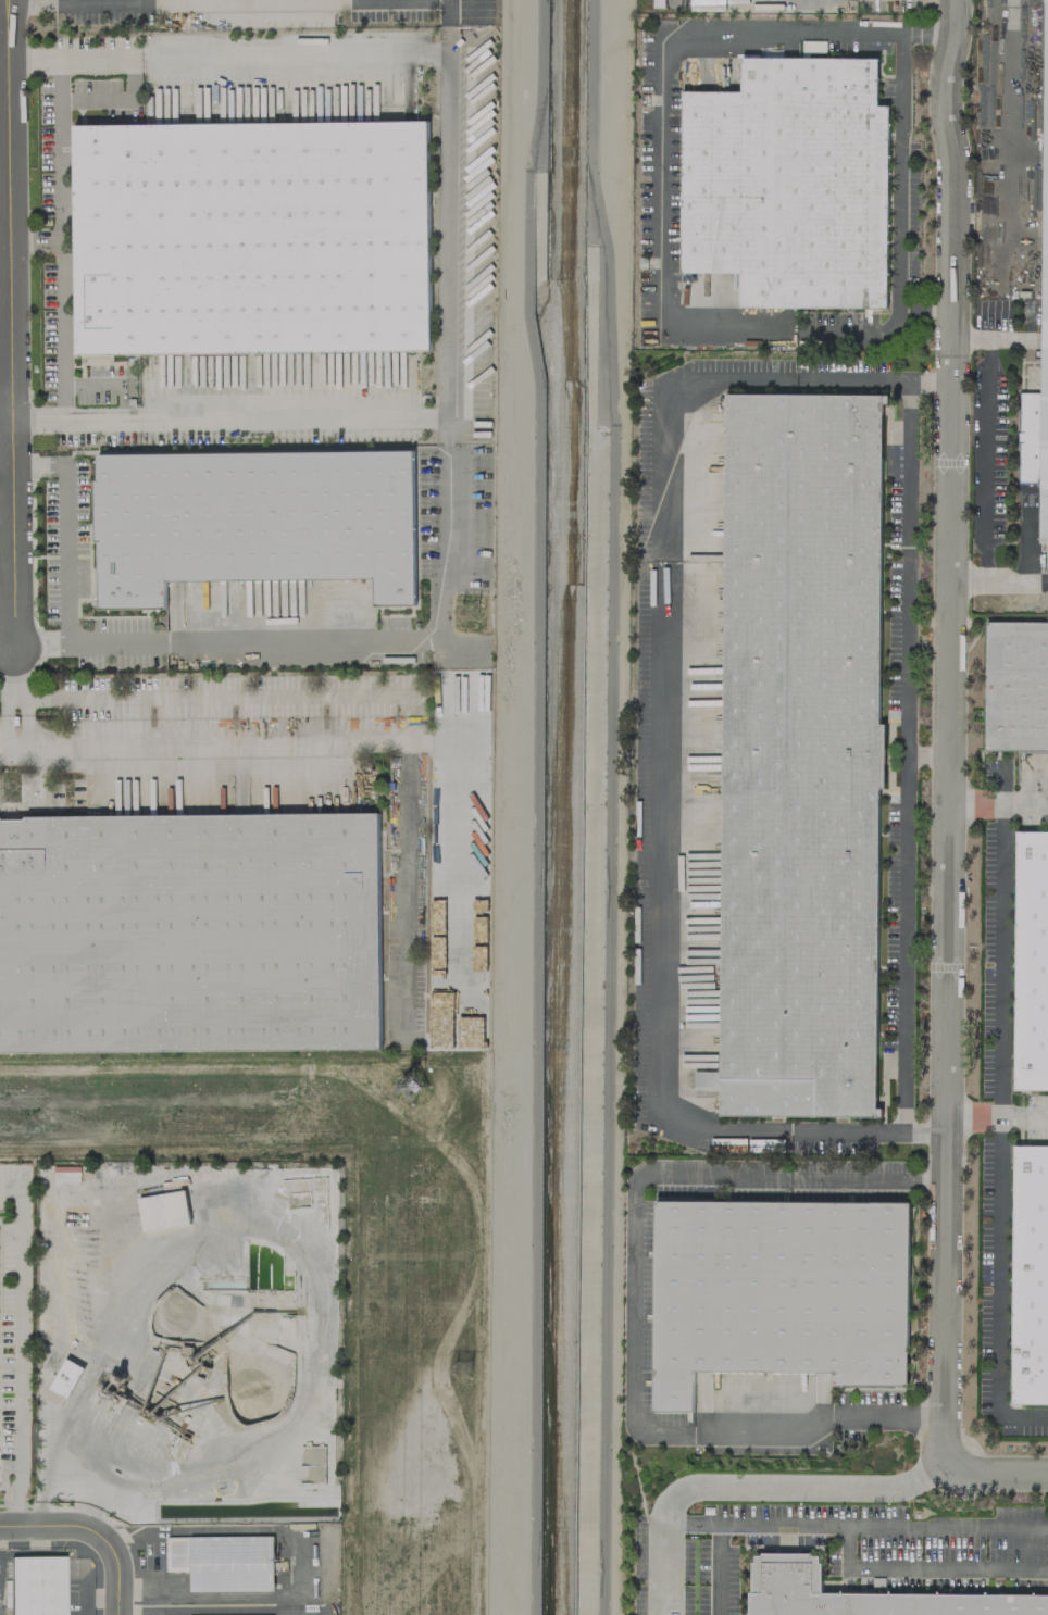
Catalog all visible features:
road: (781, 29)
building: (813, 47)
road: (299, 54)
road: (1014, 109)
road: (898, 171)
road: (661, 181)
building: (789, 184)
road: (448, 211)
road: (60, 222)
building: (252, 233)
road: (35, 235)
road: (11, 323)
road: (786, 329)
building: (1039, 333)
road: (969, 335)
road: (5, 391)
road: (441, 423)
road: (5, 439)
road: (984, 442)
building: (252, 518)
road: (65, 527)
road: (1000, 580)
power tower: (478, 608)
road: (124, 641)
road: (7, 651)
building: (1015, 684)
road: (134, 697)
road: (15, 700)
road: (4, 718)
road: (23, 718)
road: (951, 736)
road: (661, 743)
road: (14, 751)
road: (178, 752)
building: (798, 752)
road: (908, 754)
road: (976, 801)
building: (188, 938)
building: (1030, 961)
building: (704, 1079)
power tower: (416, 1093)
road: (999, 1110)
road: (999, 1114)
road: (868, 1176)
building: (163, 1210)
road: (288, 1245)
road: (635, 1253)
building: (1028, 1275)
building: (777, 1291)
road: (15, 1353)
power tower: (473, 1370)
building: (65, 1377)
road: (889, 1414)
road: (764, 1431)
road: (105, 1450)
road: (997, 1475)
road: (747, 1488)
road: (857, 1524)
road: (53, 1527)
building: (222, 1562)
road: (925, 1566)
road: (720, 1567)
road: (120, 1575)
building: (41, 1586)
road: (83, 1590)
building: (865, 1594)
road: (209, 1614)

